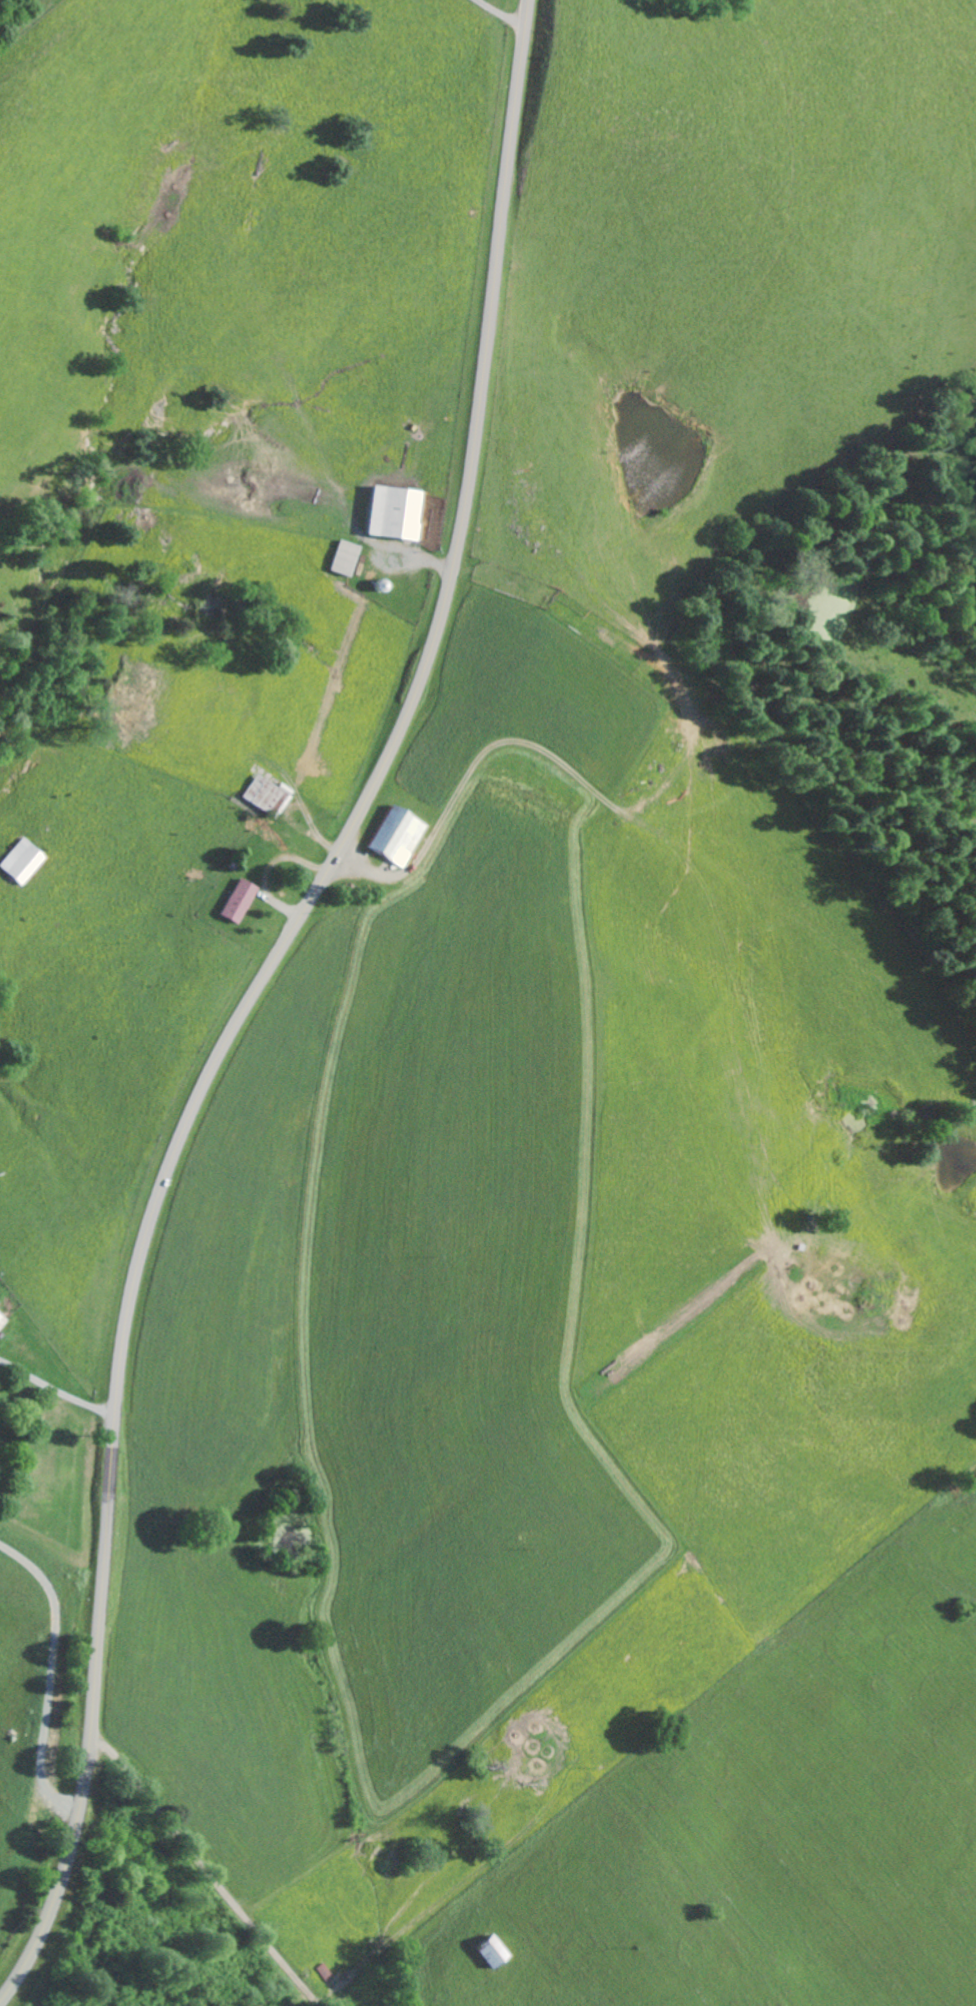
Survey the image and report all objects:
building: (401, 512)
building: (350, 557)
building: (268, 795)
building: (401, 835)
building: (25, 860)
building: (239, 900)
road: (250, 996)
building: (3, 1318)
road: (57, 1389)
building: (485, 1950)

